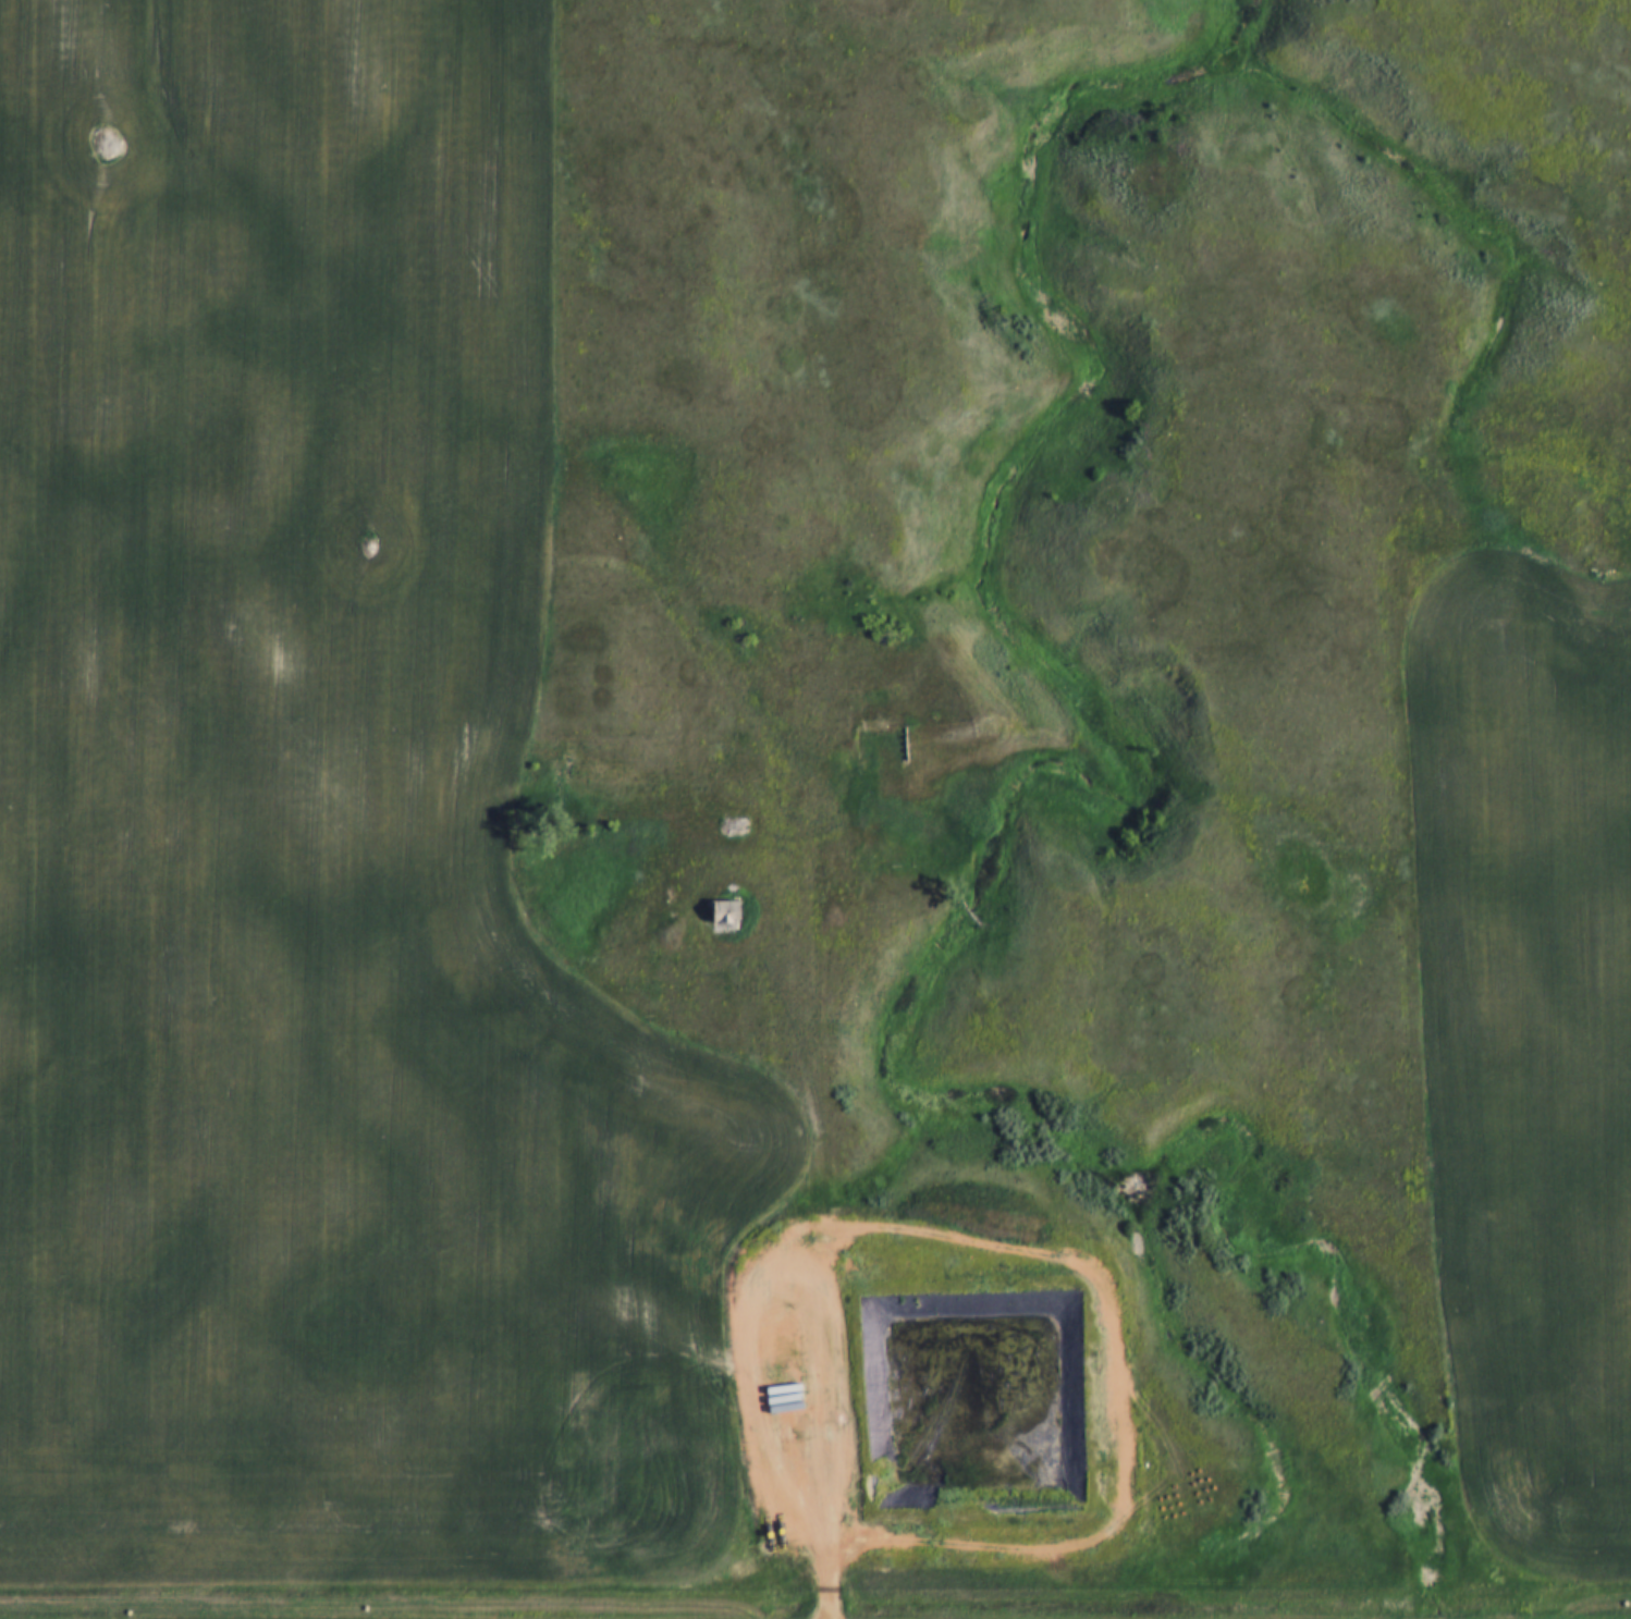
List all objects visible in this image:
road: (860, 633)
road: (834, 1443)

